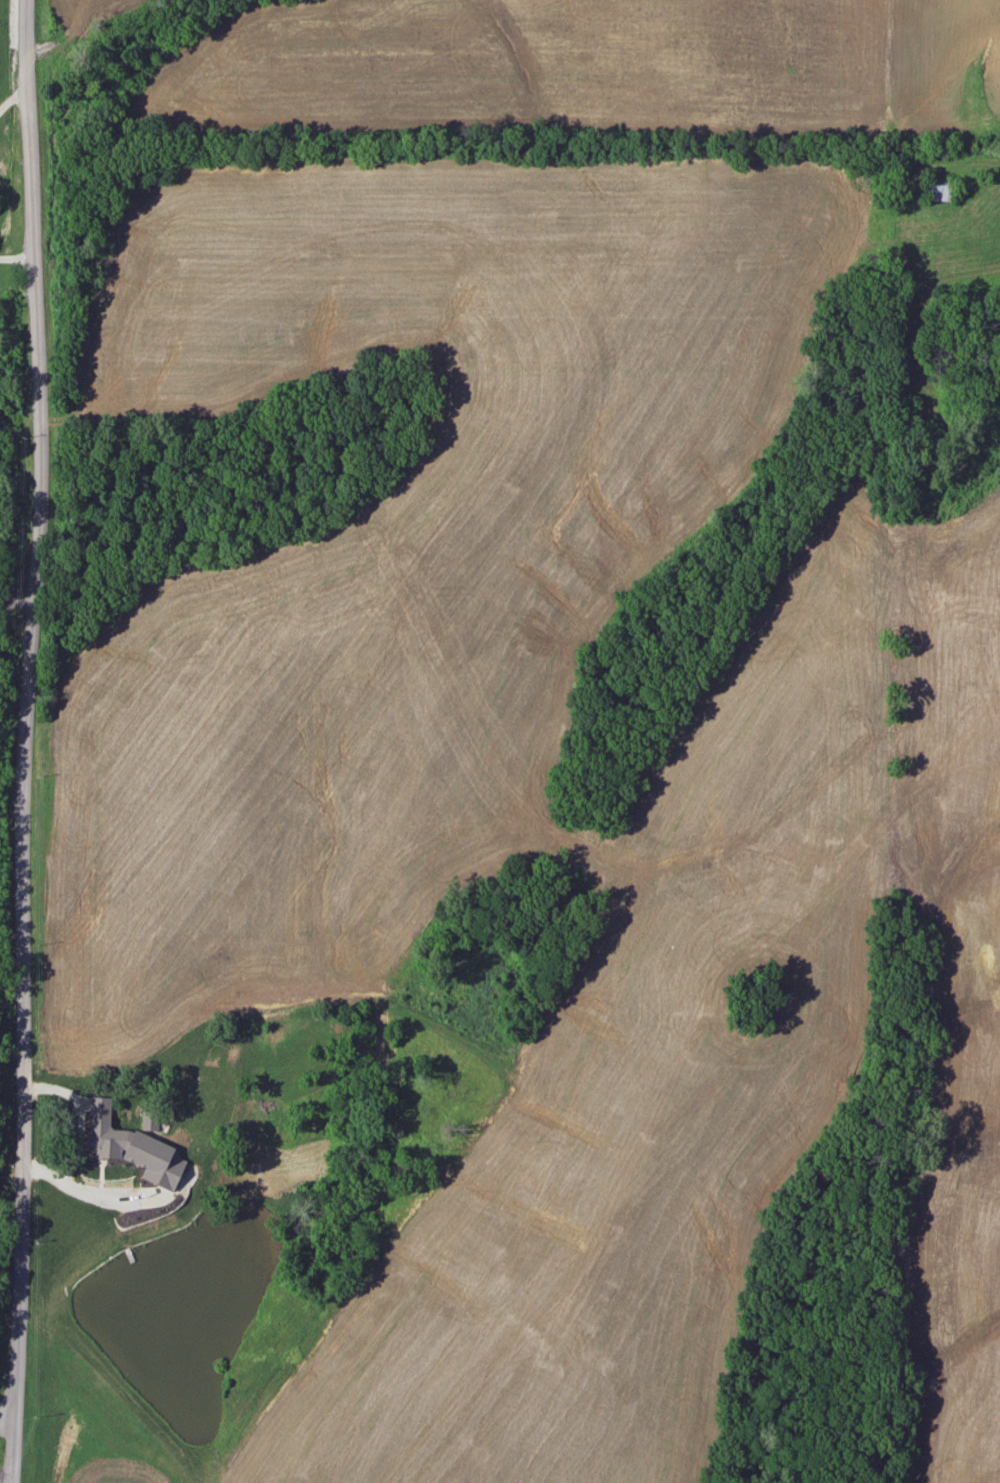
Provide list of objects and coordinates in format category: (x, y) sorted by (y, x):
road: (15, 93)
road: (20, 244)
road: (19, 599)
road: (32, 707)
road: (79, 1134)
building: (131, 1146)
road: (10, 1421)
road: (20, 1449)

